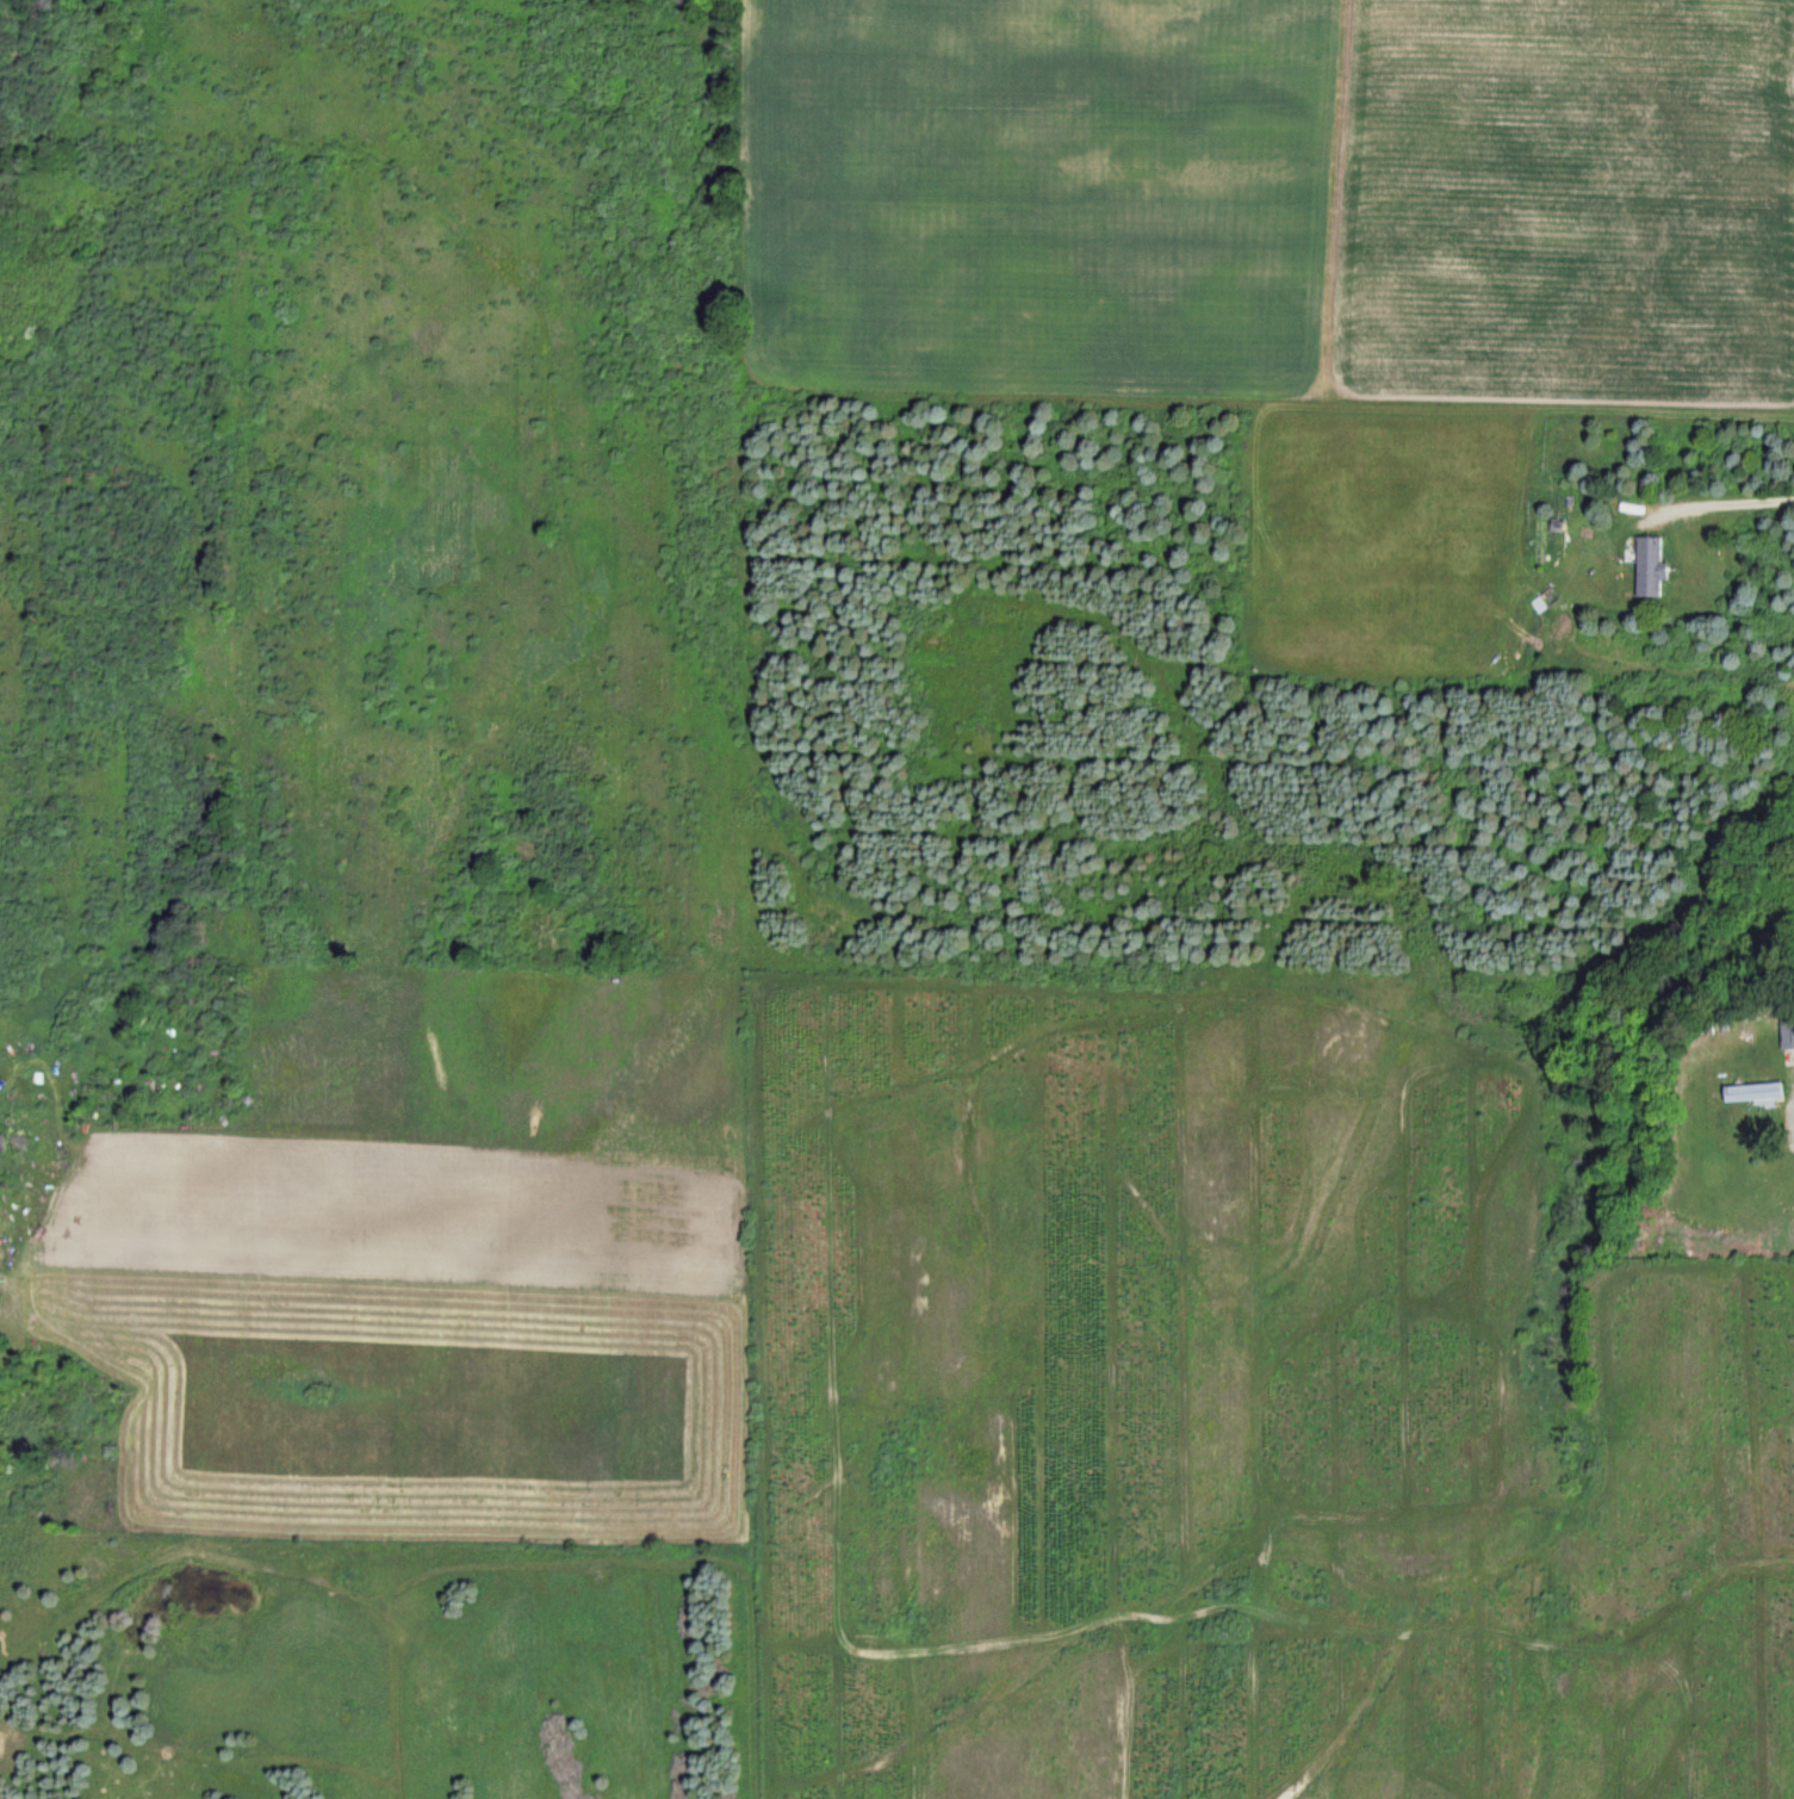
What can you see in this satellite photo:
building: (1647, 567)
building: (1788, 1041)
building: (1753, 1093)

